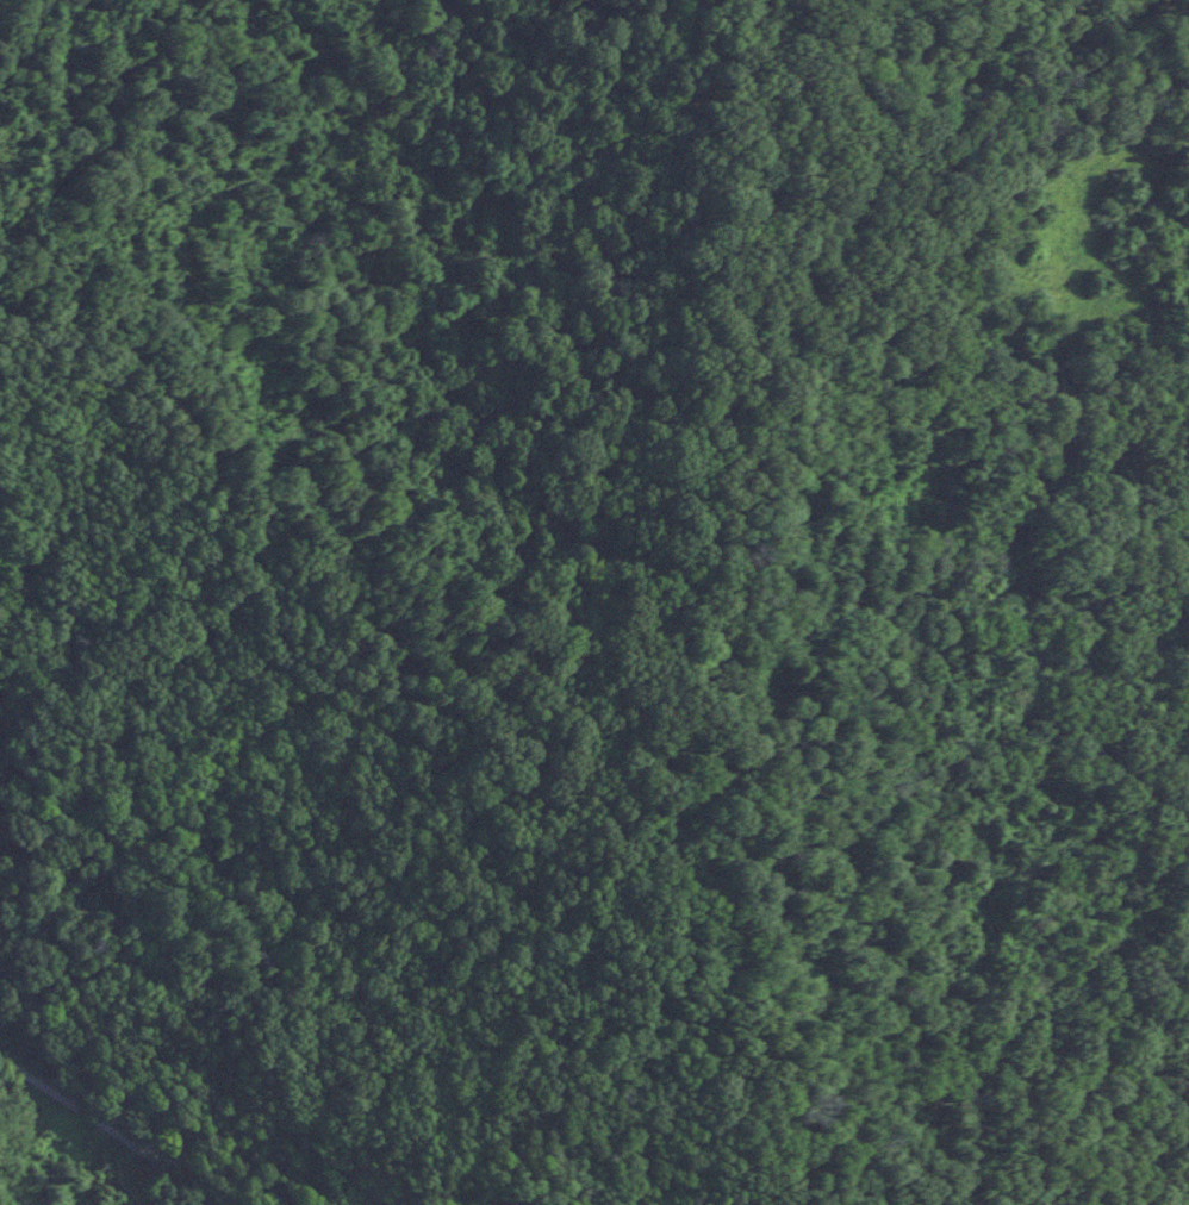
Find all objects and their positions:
road: (107, 1129)

